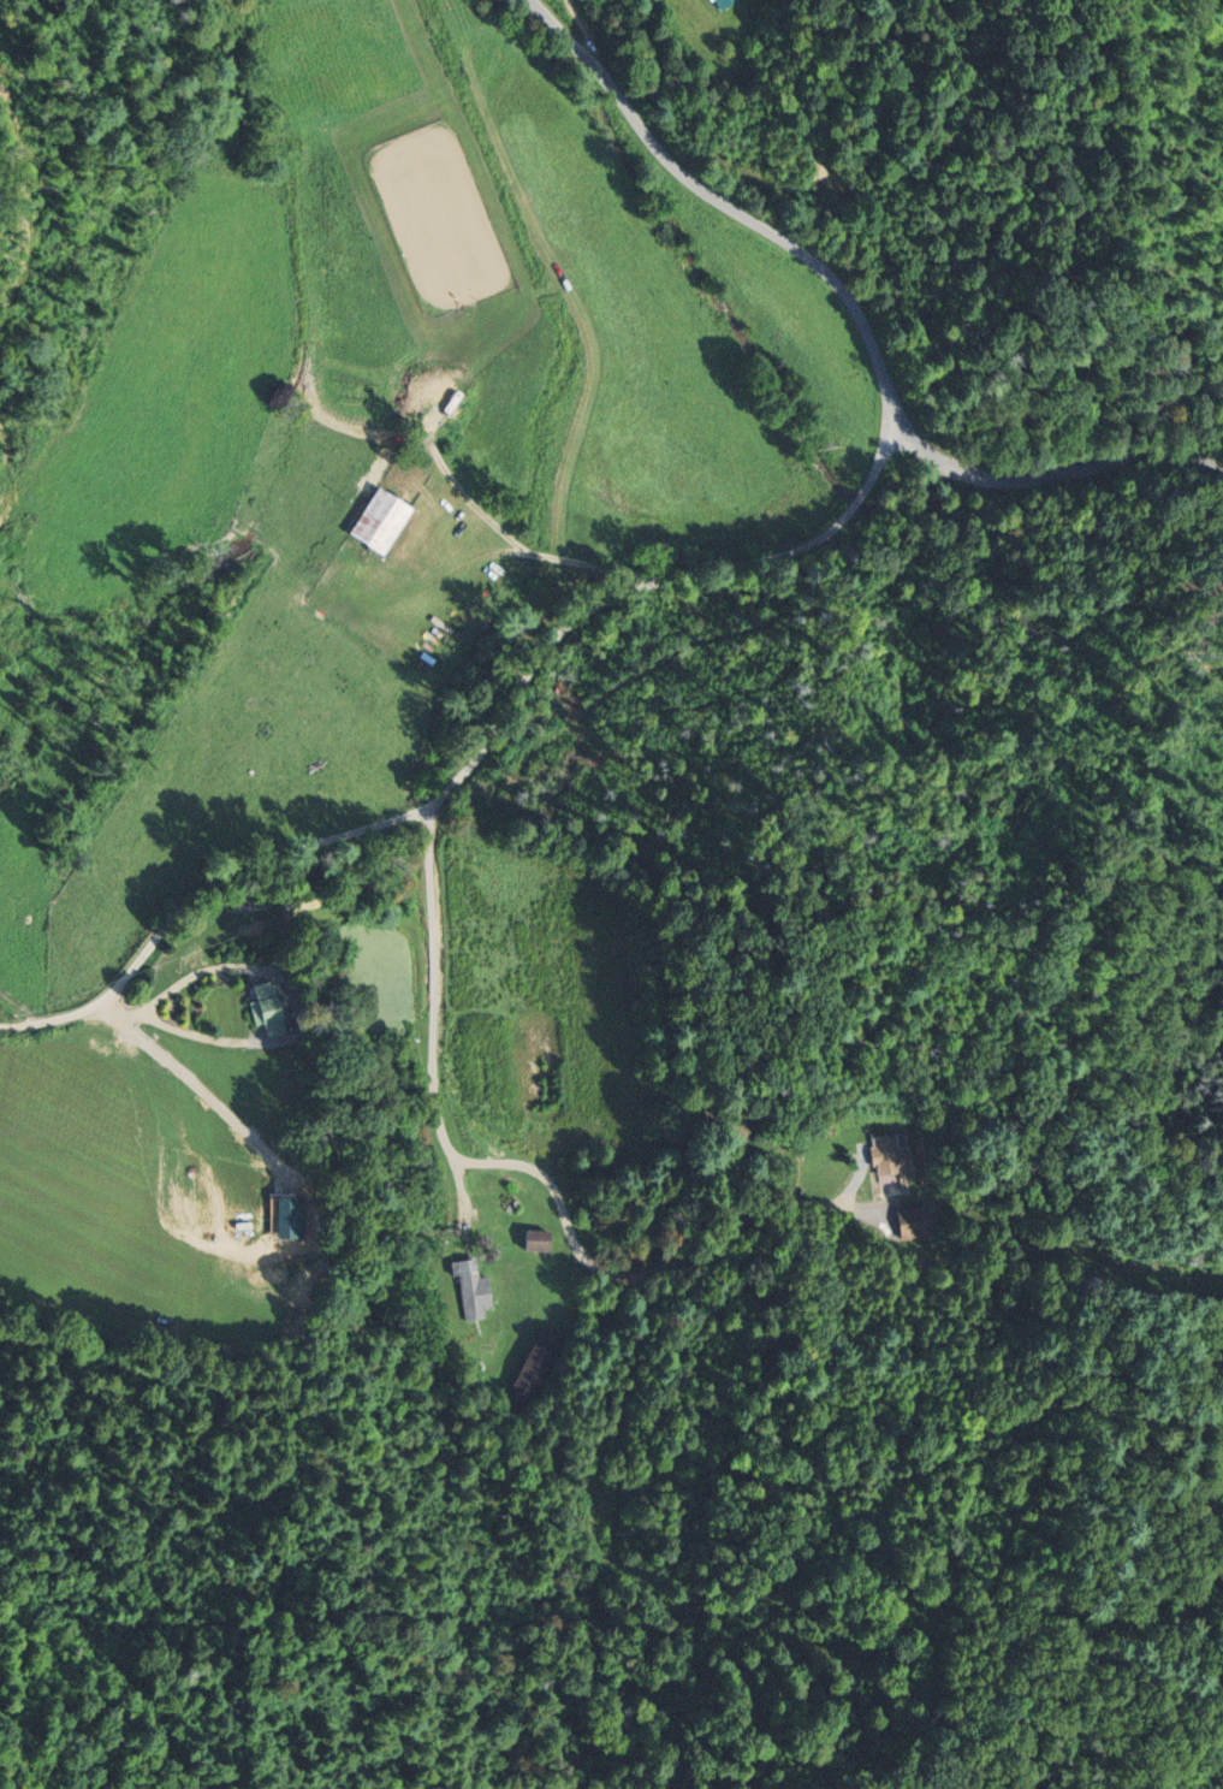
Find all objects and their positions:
road: (588, 29)
road: (729, 207)
road: (881, 458)
road: (1052, 475)
road: (856, 500)
road: (443, 790)
road: (495, 1165)

